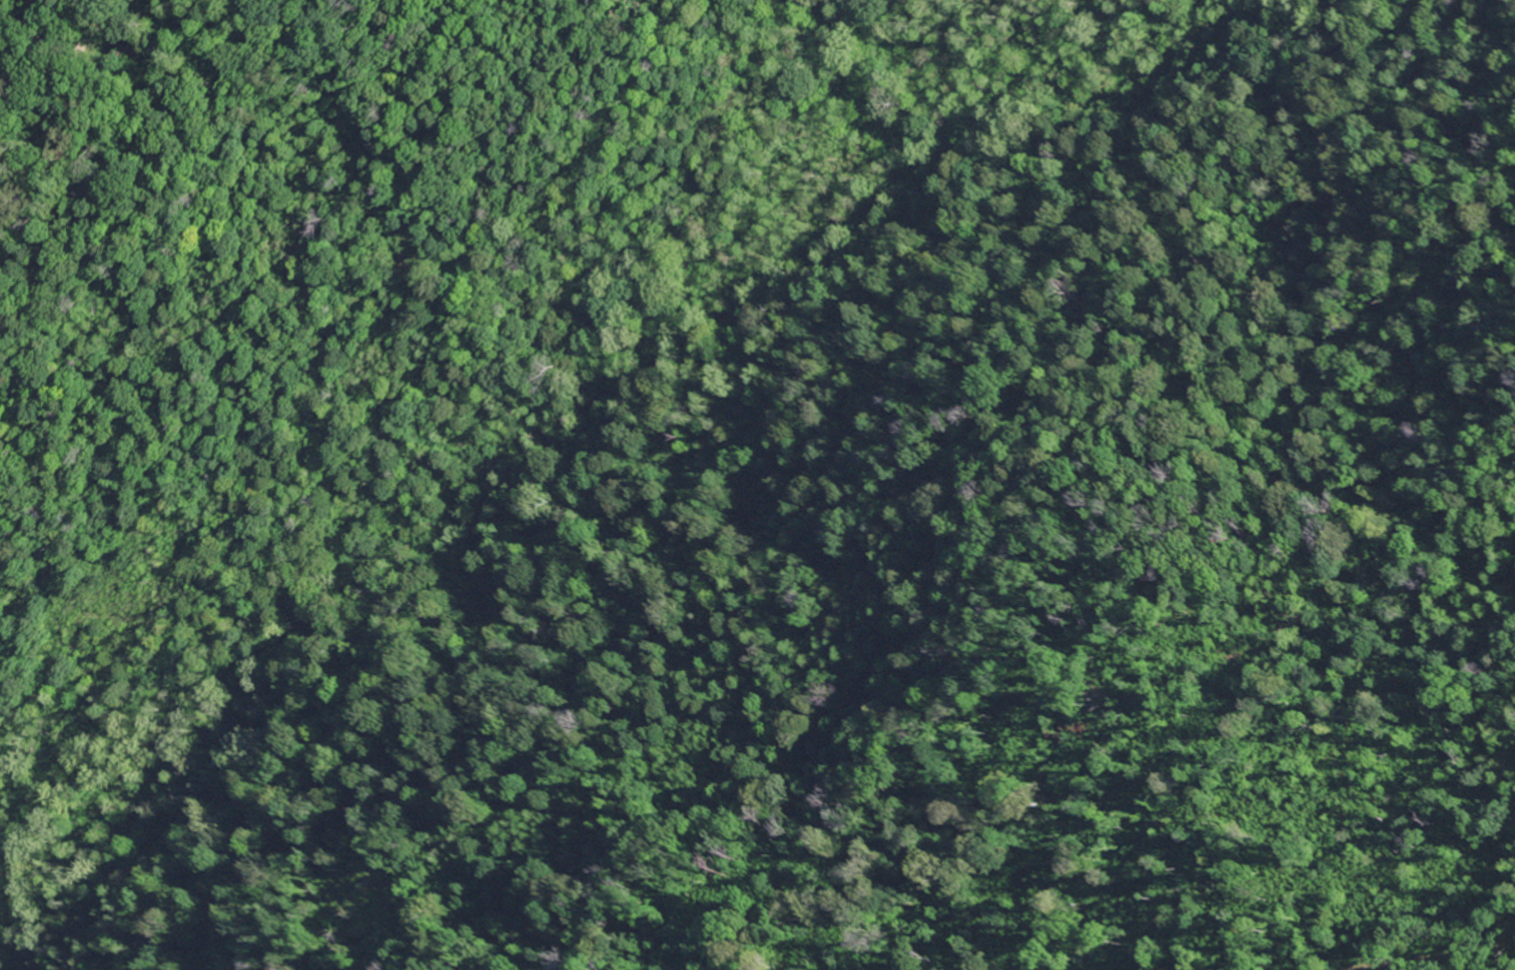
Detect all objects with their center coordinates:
road: (1218, 923)

